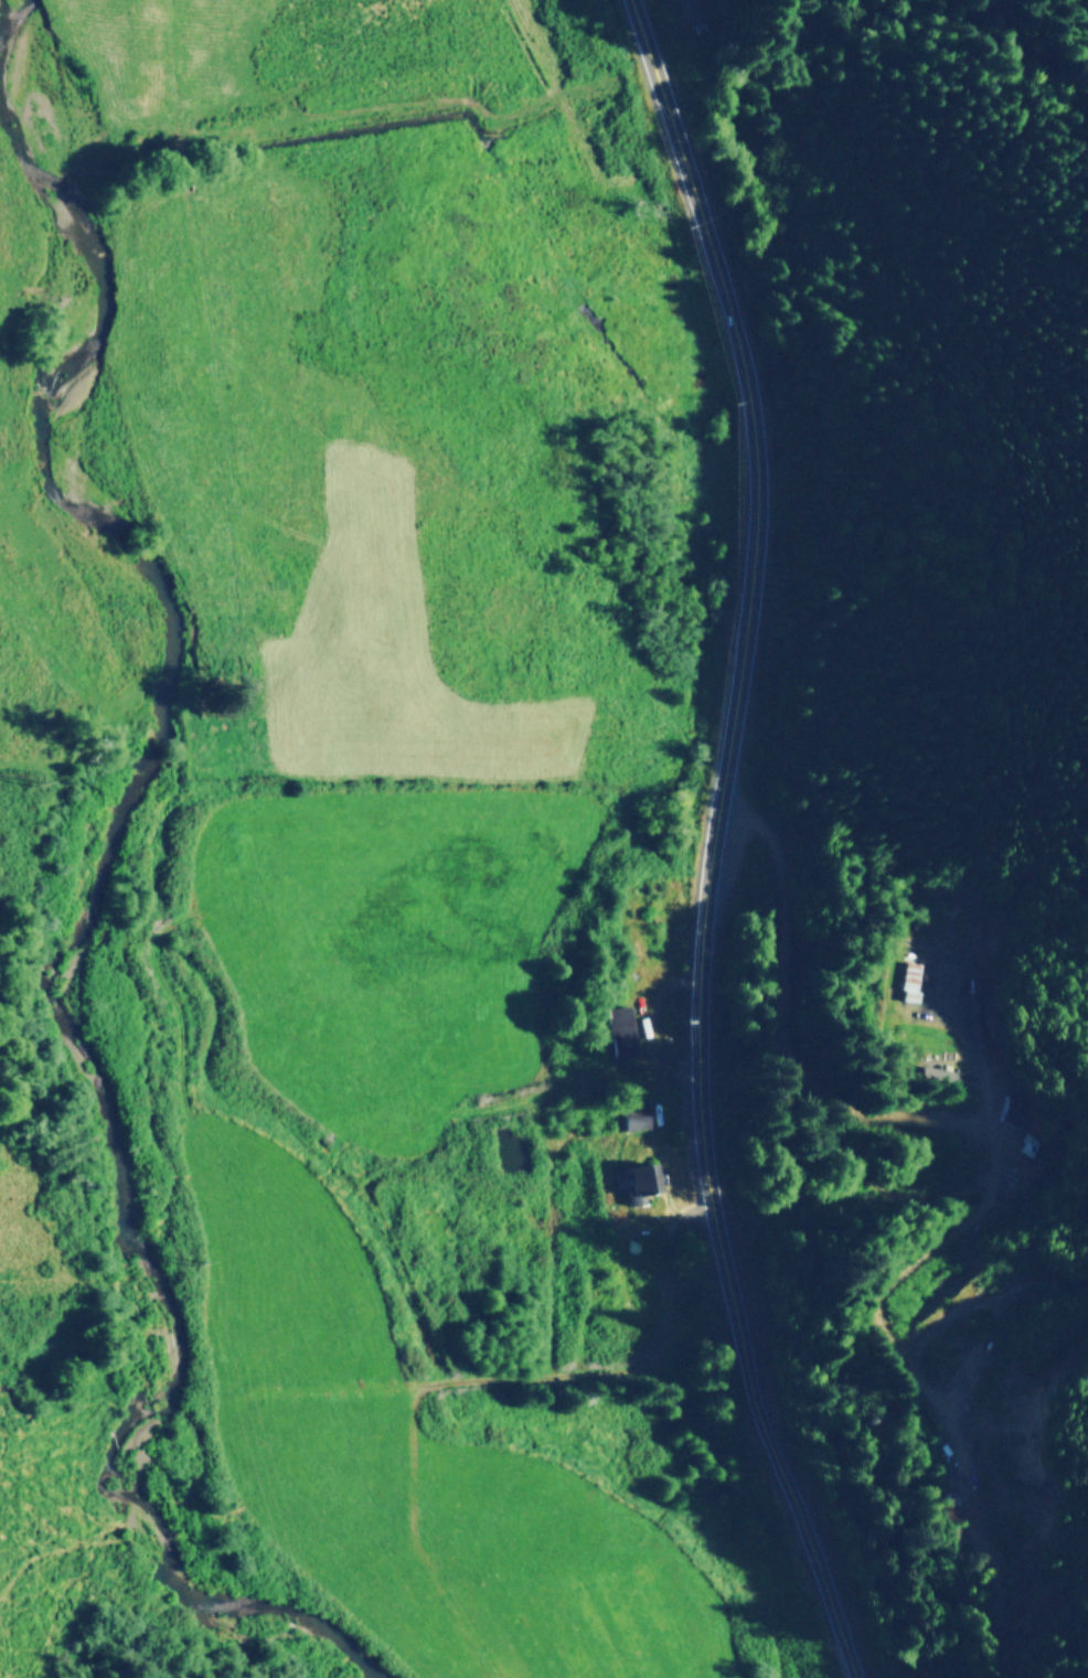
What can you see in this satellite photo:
crop: (346, 811)
road: (713, 841)
building: (616, 1030)
road: (626, 1359)

